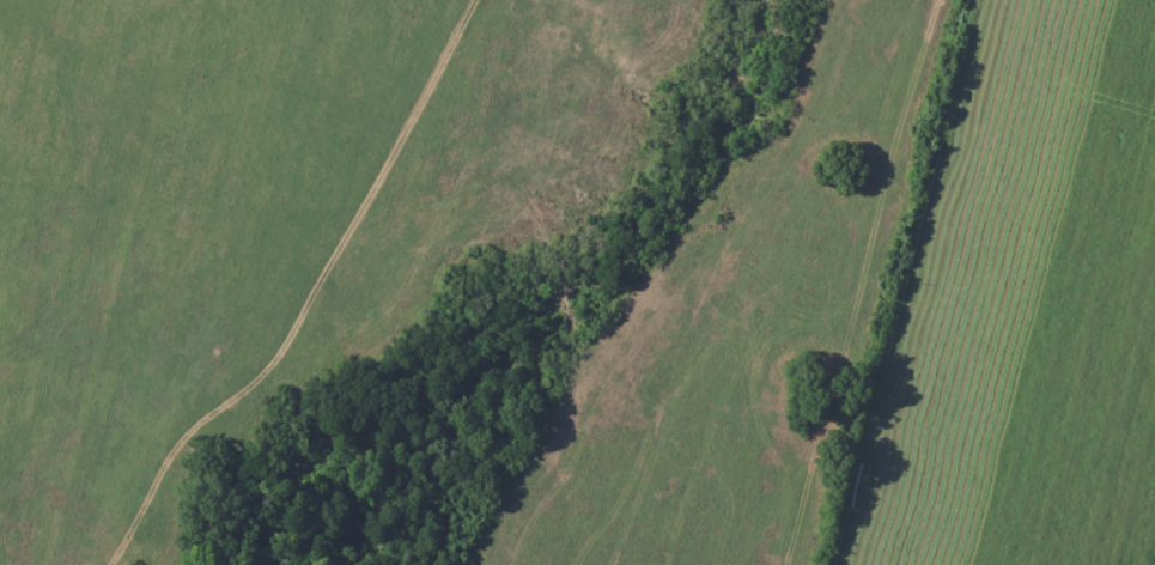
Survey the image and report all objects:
road: (311, 286)

